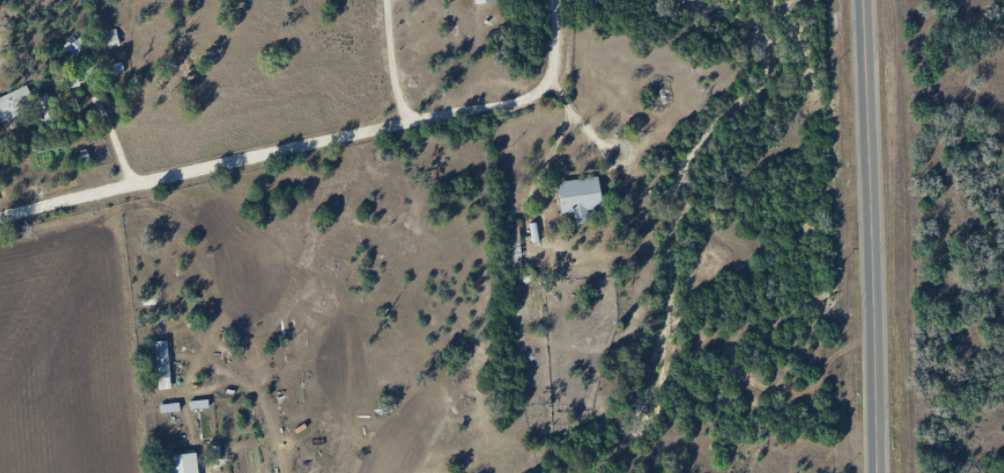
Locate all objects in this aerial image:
building: (484, 1)
building: (74, 47)
building: (72, 81)
building: (28, 107)
road: (315, 142)
building: (584, 202)
road: (875, 236)
building: (513, 249)
building: (162, 365)

